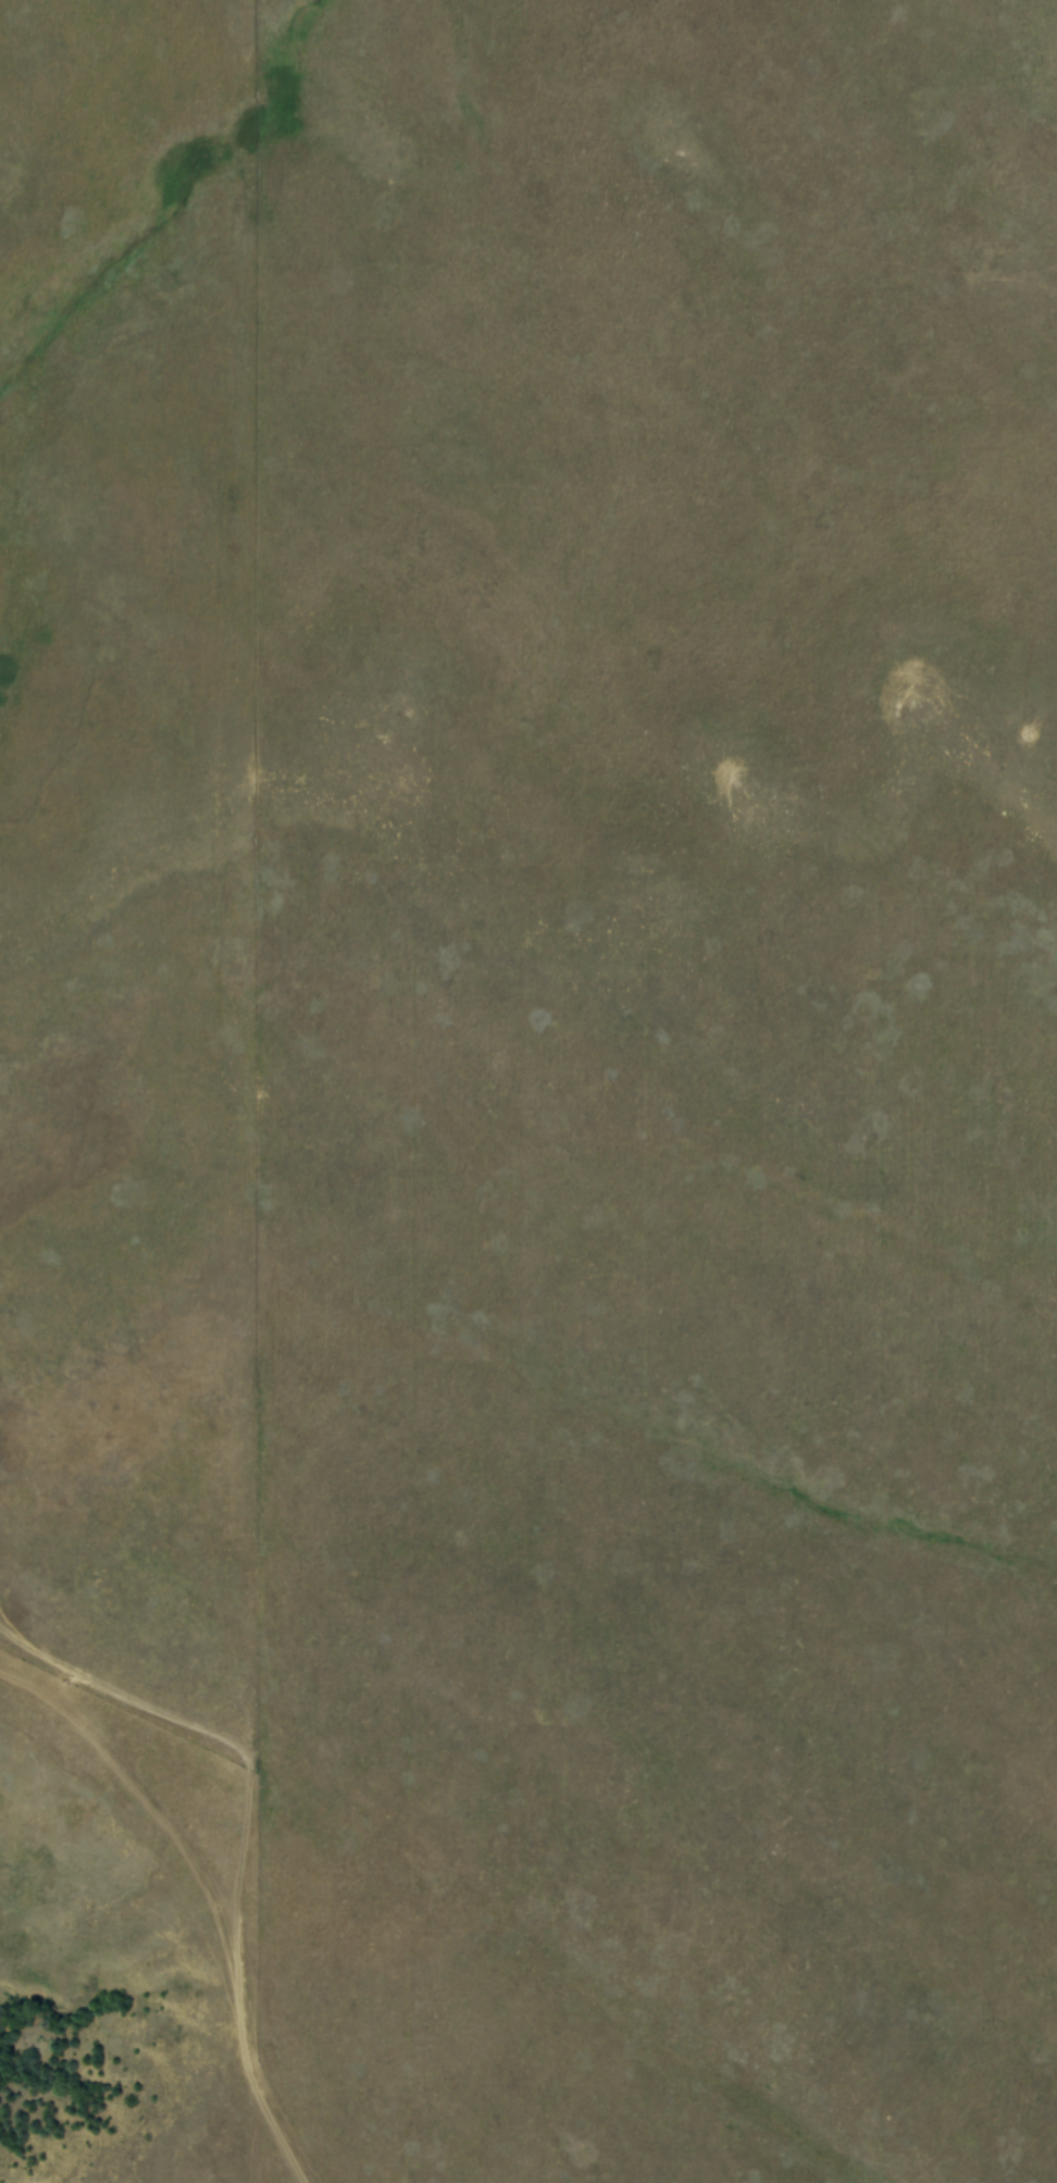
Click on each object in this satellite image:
road: (75, 1999)

